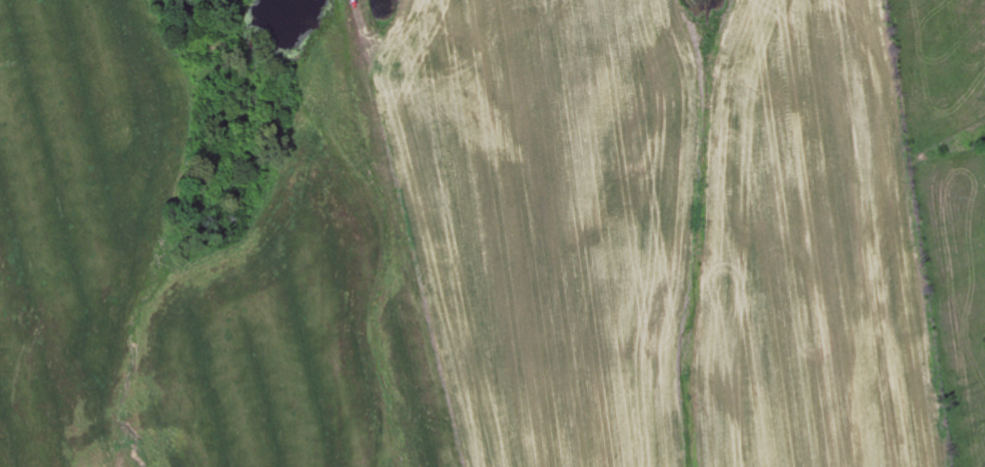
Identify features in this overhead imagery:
road: (829, 181)

